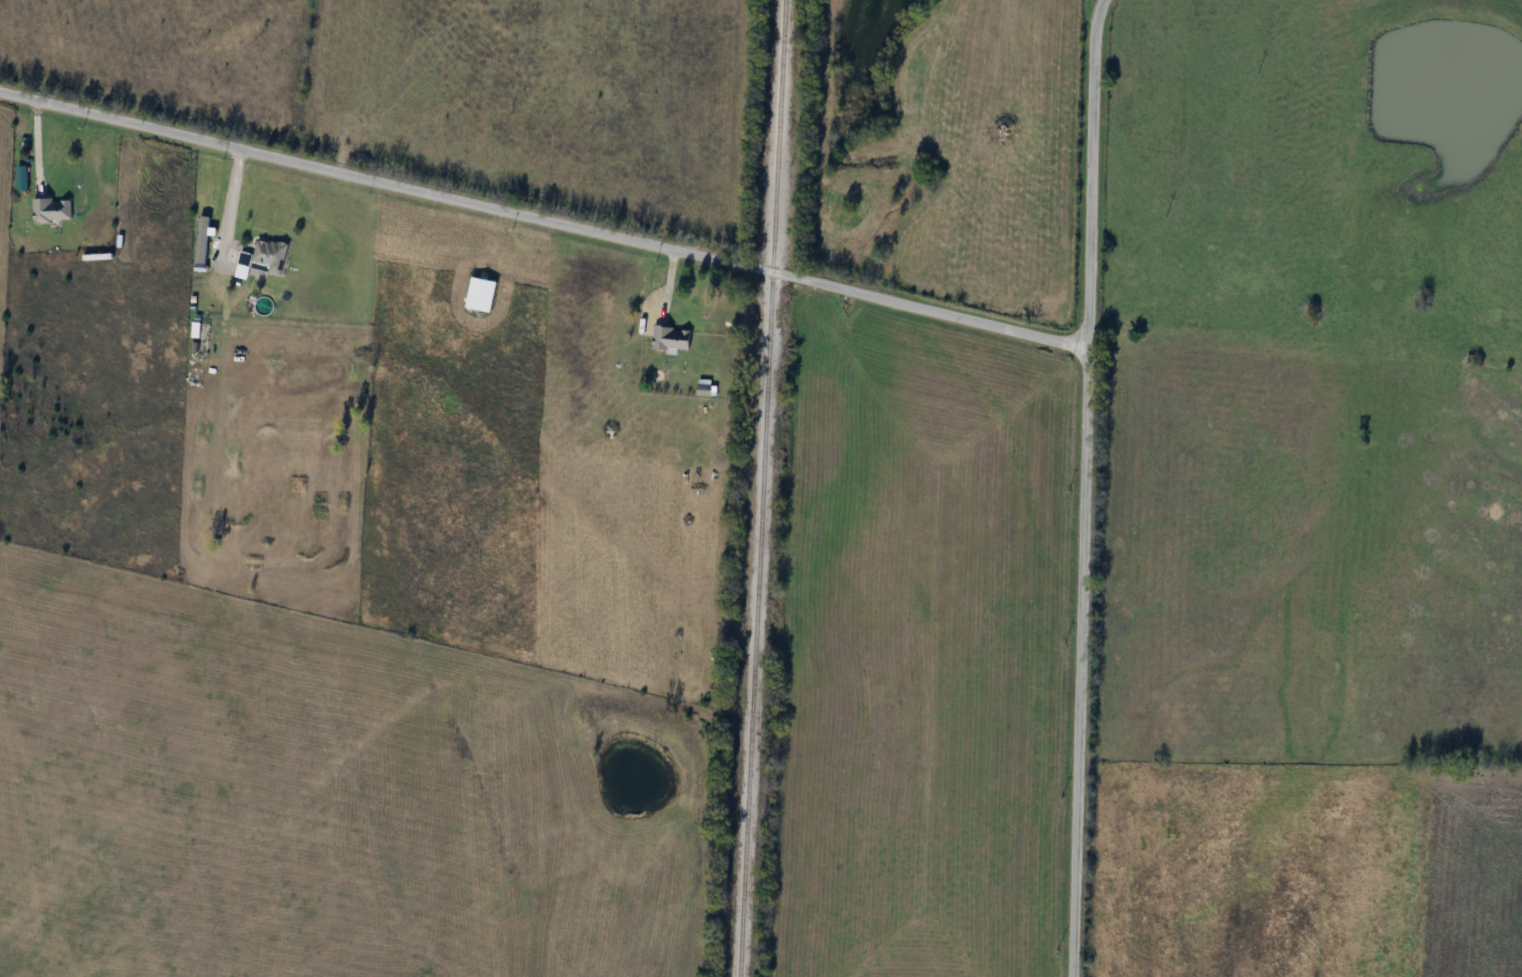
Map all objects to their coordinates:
road: (234, 201)
building: (52, 210)
road: (543, 219)
building: (270, 257)
building: (482, 295)
building: (673, 339)
road: (1083, 487)
railway: (761, 488)

